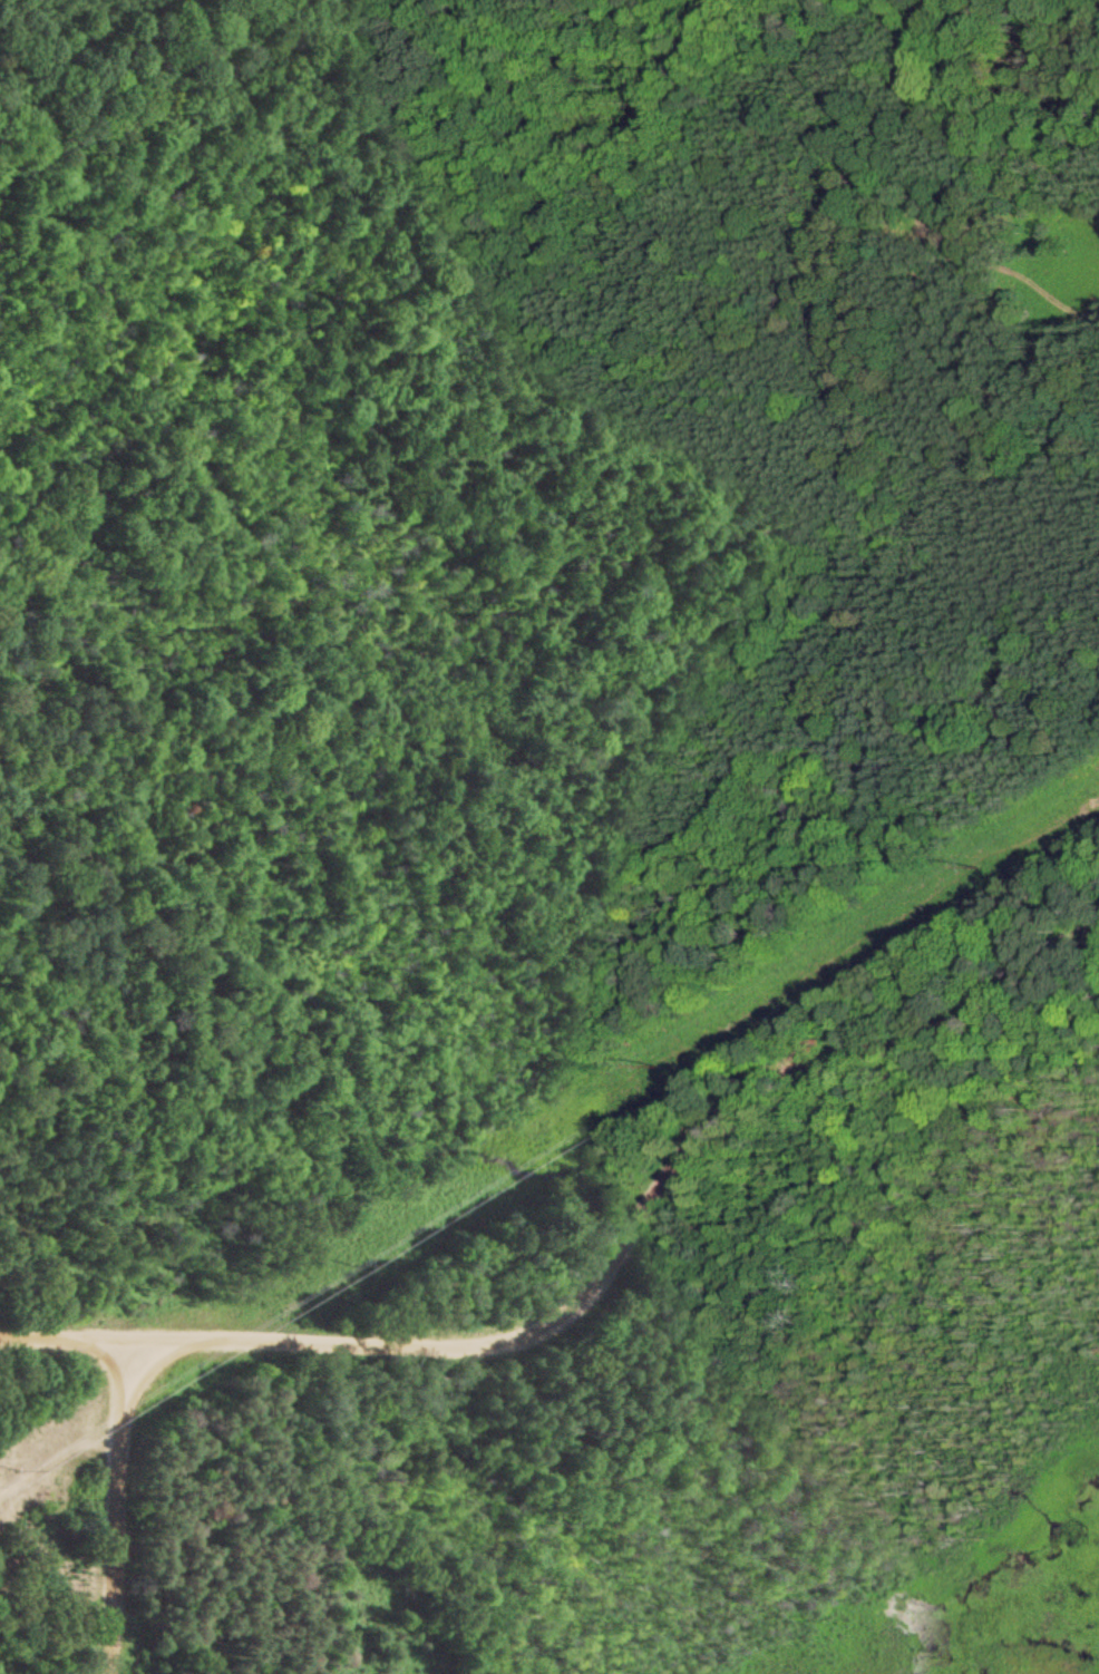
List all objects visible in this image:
road: (927, 265)
road: (599, 1275)
road: (113, 1507)

